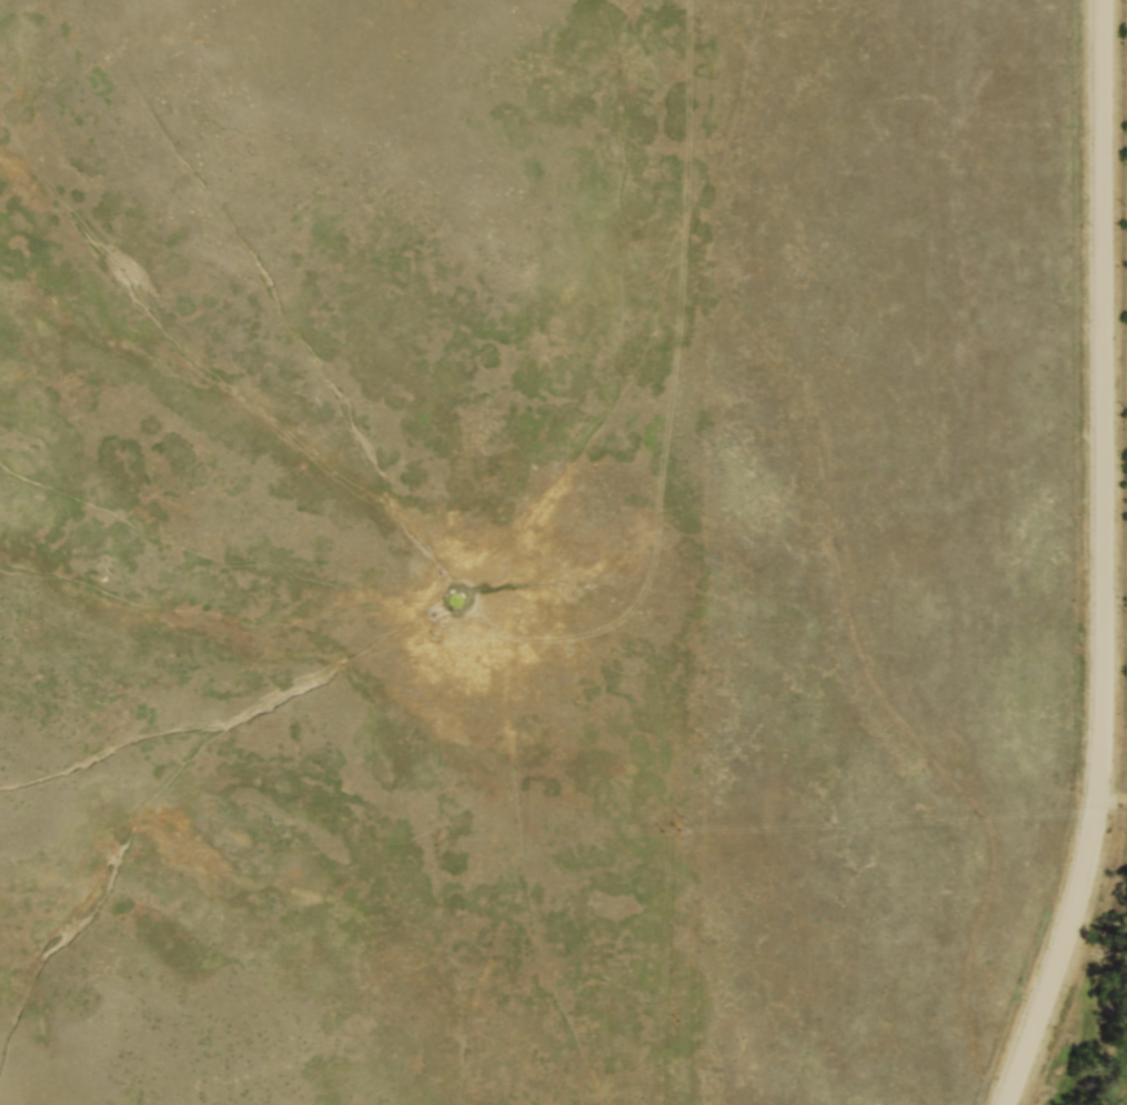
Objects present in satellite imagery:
road: (1099, 560)

